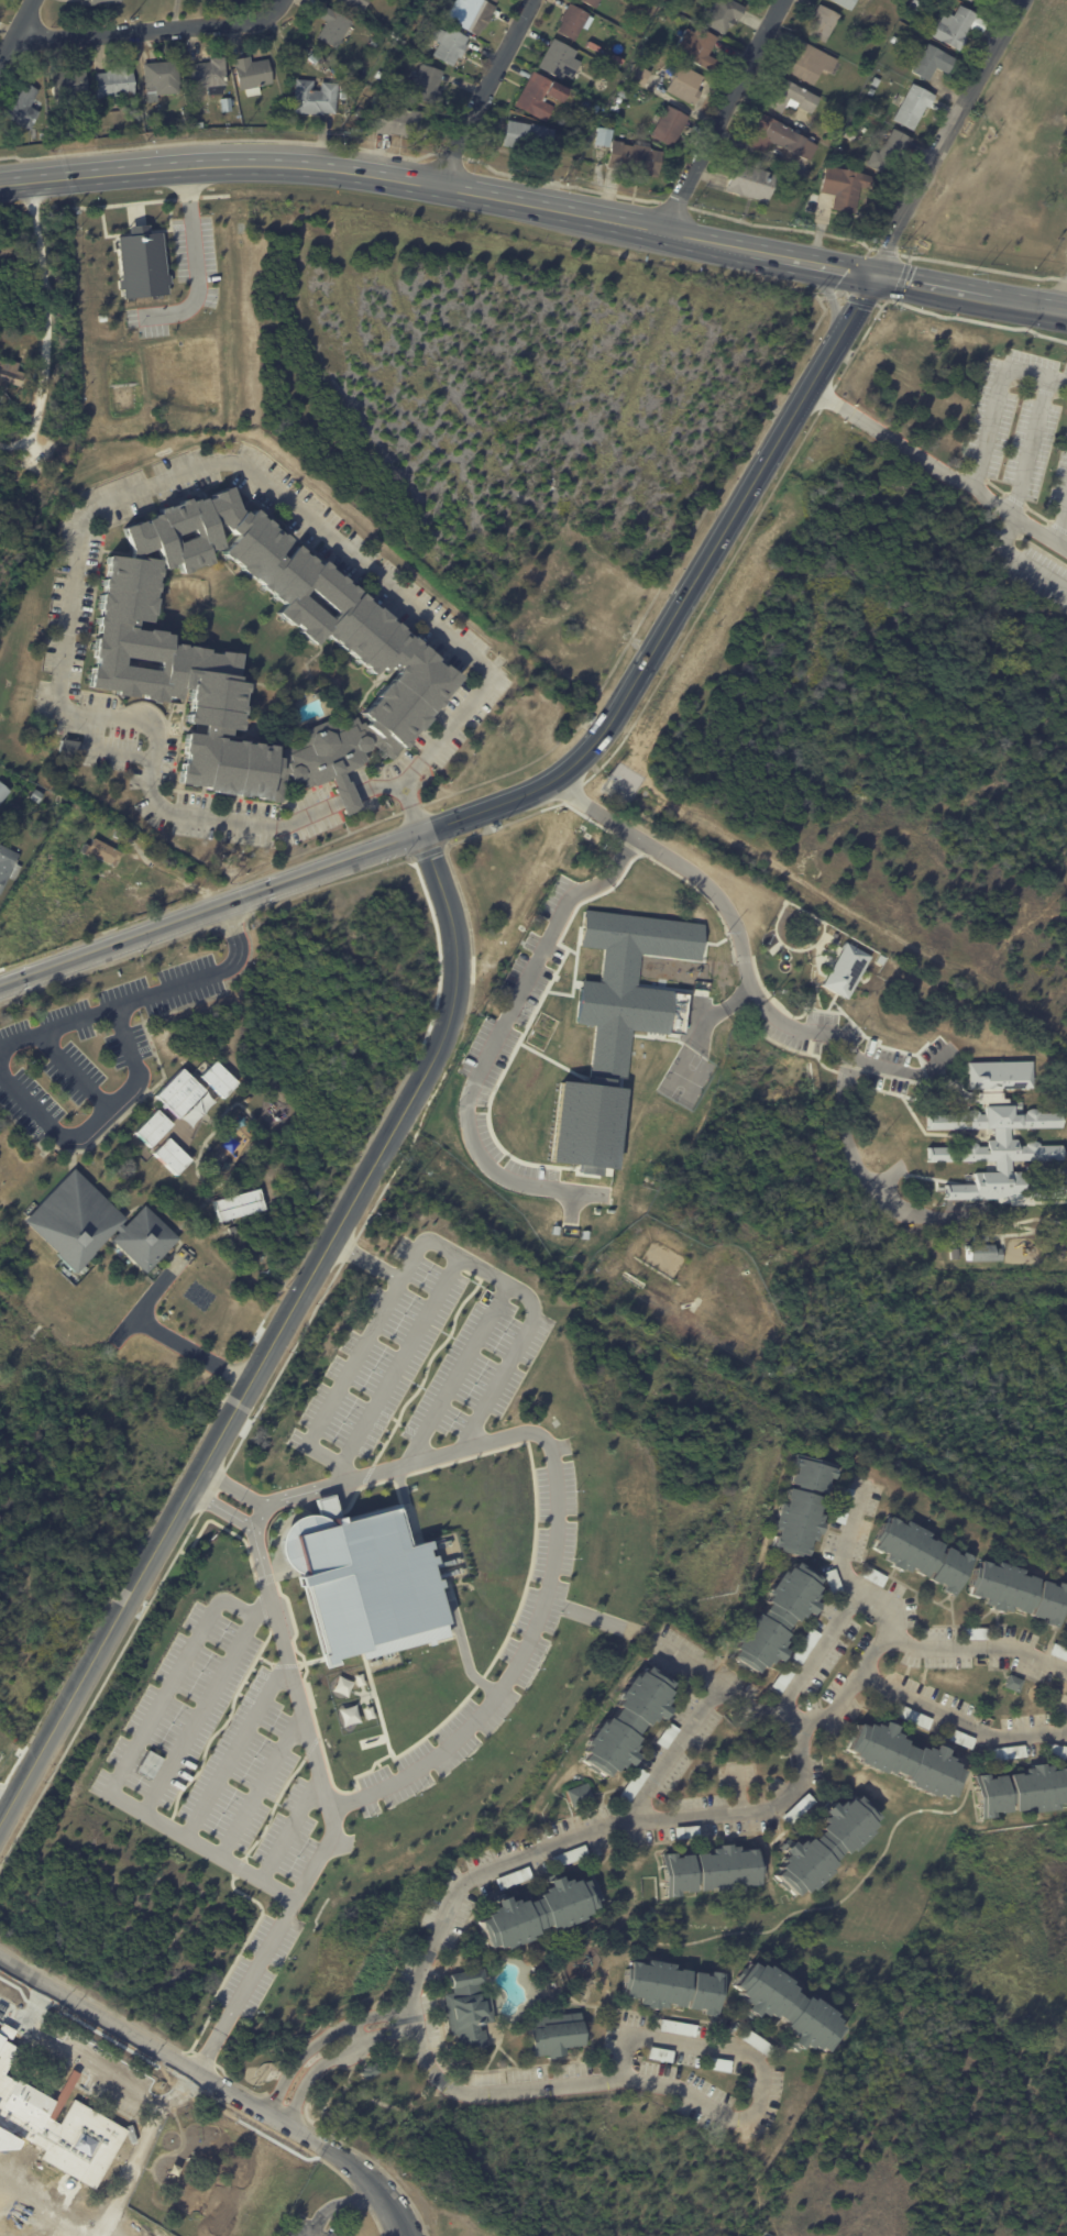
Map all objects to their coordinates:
building: (497, 0)
building: (972, 0)
building: (100, 2)
building: (594, 2)
building: (354, 3)
building: (848, 3)
building: (917, 5)
building: (687, 10)
building: (665, 11)
building: (475, 14)
building: (725, 14)
building: (574, 22)
building: (657, 23)
building: (825, 23)
building: (334, 26)
building: (960, 26)
road: (155, 29)
road: (15, 34)
building: (864, 34)
building: (895, 40)
building: (451, 45)
building: (698, 46)
building: (298, 55)
building: (656, 57)
building: (315, 58)
building: (561, 60)
building: (934, 62)
building: (812, 63)
building: (380, 74)
building: (210, 75)
building: (253, 75)
building: (638, 75)
building: (163, 77)
building: (73, 81)
building: (877, 81)
building: (117, 82)
building: (429, 85)
building: (603, 85)
building: (686, 85)
road: (485, 92)
building: (872, 92)
building: (343, 95)
building: (624, 95)
building: (541, 96)
building: (793, 97)
building: (316, 98)
building: (620, 100)
building: (226, 102)
building: (24, 107)
building: (915, 107)
road: (721, 115)
building: (842, 119)
building: (403, 121)
building: (671, 125)
building: (70, 134)
building: (851, 135)
building: (44, 136)
road: (952, 136)
building: (530, 137)
building: (605, 137)
building: (782, 139)
building: (892, 153)
building: (636, 158)
road: (380, 175)
building: (752, 181)
building: (846, 187)
building: (948, 188)
parking lot: (196, 256)
road: (194, 258)
building: (141, 262)
road: (814, 262)
traffic signals: (876, 274)
road: (932, 285)
road: (828, 293)
road: (1027, 305)
parking lot: (146, 320)
road: (45, 323)
building: (10, 374)
road: (998, 397)
road: (1031, 444)
road: (31, 448)
parking lot: (36, 452)
parking lot: (1025, 465)
road: (19, 466)
road: (938, 466)
road: (61, 482)
road: (144, 488)
road: (736, 508)
road: (1061, 526)
road: (1021, 558)
building: (151, 653)
building: (70, 746)
flagpole: (438, 782)
road: (376, 785)
flagpole: (435, 785)
road: (539, 785)
flagpole: (431, 791)
building: (3, 792)
building: (37, 795)
road: (345, 800)
road: (447, 822)
building: (105, 851)
building: (101, 864)
building: (8, 866)
building: (100, 883)
road: (210, 908)
road: (744, 952)
building: (845, 970)
road: (206, 977)
road: (506, 1021)
building: (615, 1026)
road: (58, 1029)
parking lot: (514, 1039)
parking lot: (88, 1040)
park: (689, 1071)
building: (999, 1075)
building: (216, 1078)
building: (177, 1092)
building: (194, 1109)
road: (98, 1125)
building: (150, 1127)
road: (849, 1148)
building: (997, 1154)
building: (168, 1155)
building: (235, 1204)
building: (96, 1224)
building: (980, 1251)
building: (952, 1254)
road: (420, 1323)
road: (168, 1335)
road: (274, 1337)
road: (519, 1340)
road: (358, 1352)
parking lot: (419, 1359)
road: (457, 1375)
building: (801, 1505)
building: (842, 1505)
building: (917, 1555)
building: (871, 1576)
building: (831, 1579)
building: (361, 1582)
building: (1015, 1590)
road: (855, 1606)
building: (770, 1618)
building: (1065, 1626)
parking lot: (536, 1629)
building: (972, 1633)
road: (530, 1639)
building: (804, 1645)
road: (956, 1649)
building: (1057, 1651)
road: (465, 1654)
road: (177, 1670)
building: (780, 1679)
building: (686, 1683)
building: (1010, 1684)
road: (199, 1714)
building: (346, 1715)
road: (960, 1715)
road: (794, 1716)
building: (911, 1717)
building: (627, 1721)
building: (664, 1736)
building: (959, 1739)
road: (676, 1745)
road: (235, 1748)
building: (1052, 1750)
building: (1003, 1752)
parking lot: (219, 1754)
building: (900, 1759)
building: (147, 1763)
building: (631, 1784)
road: (261, 1785)
building: (1021, 1789)
building: (579, 1794)
road: (751, 1806)
building: (796, 1808)
road: (290, 1828)
building: (684, 1831)
road: (201, 1843)
building: (825, 1846)
building: (568, 1855)
building: (715, 1870)
building: (513, 1877)
building: (538, 1913)
road: (269, 1940)
parking lot: (258, 1962)
building: (674, 1986)
building: (547, 1990)
building: (466, 2007)
building: (792, 2008)
road: (383, 2023)
building: (676, 2027)
building: (555, 2035)
building: (756, 2041)
road: (420, 2047)
road: (710, 2049)
road: (301, 2052)
building: (659, 2053)
road: (175, 2059)
building: (718, 2064)
parking lot: (85, 2066)
road: (96, 2068)
road: (318, 2069)
building: (370, 2070)
building: (55, 2128)
road: (386, 2193)
road: (341, 2204)

